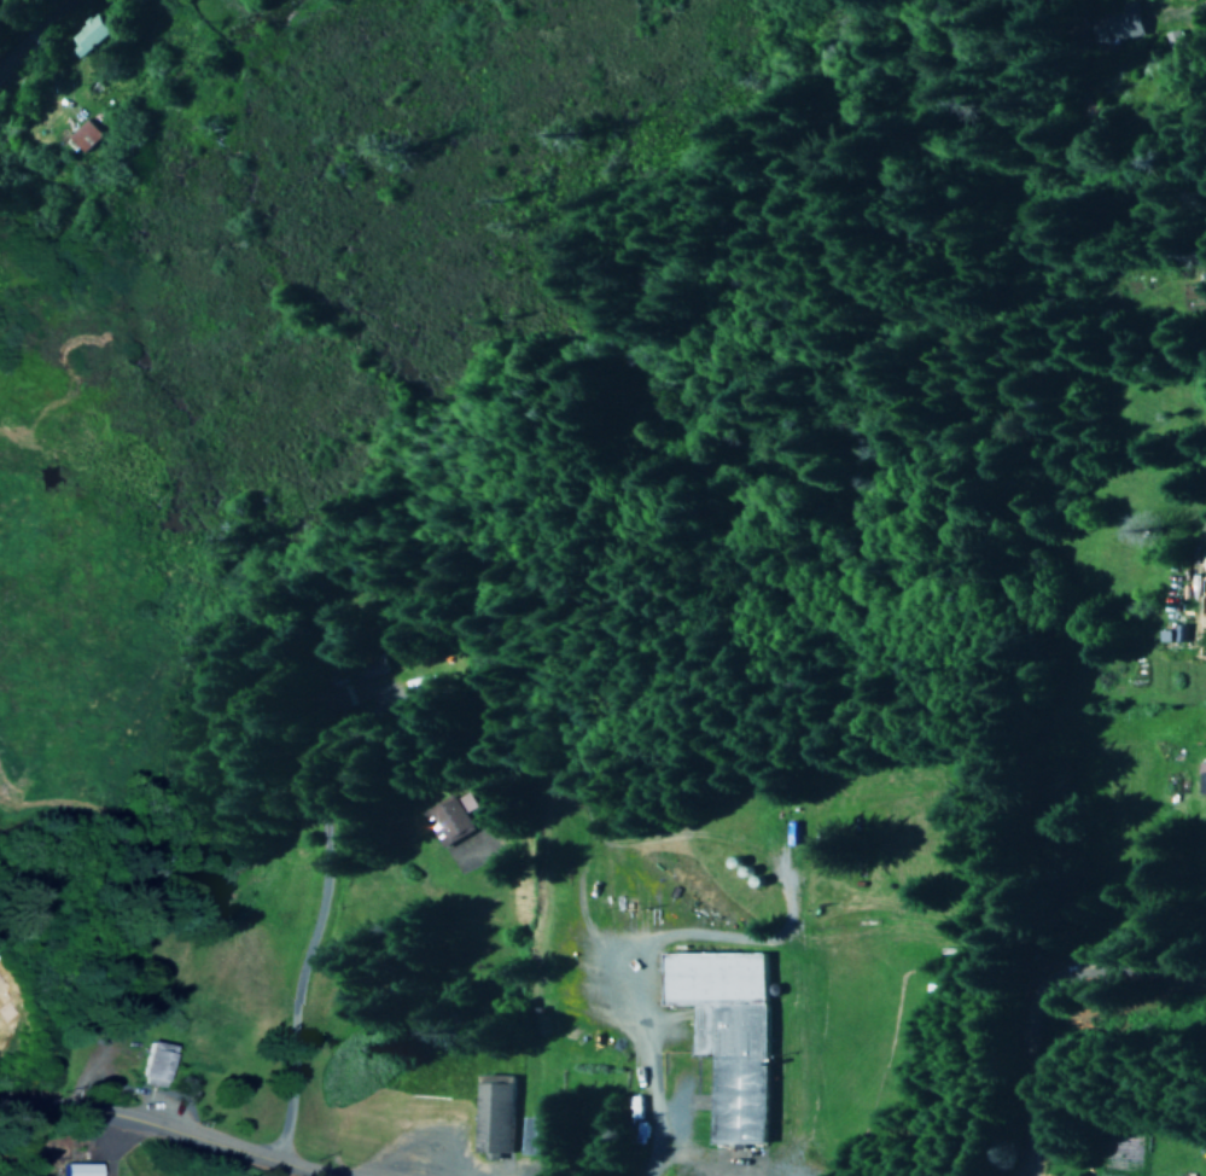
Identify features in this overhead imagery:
road: (1187, 11)
road: (11, 12)
road: (29, 18)
building: (1117, 24)
building: (83, 35)
building: (83, 136)
building: (1201, 779)
building: (449, 819)
road: (326, 836)
road: (1042, 996)
building: (726, 1034)
building: (153, 1066)
building: (494, 1114)
road: (158, 1129)
building: (538, 1137)
building: (77, 1170)

